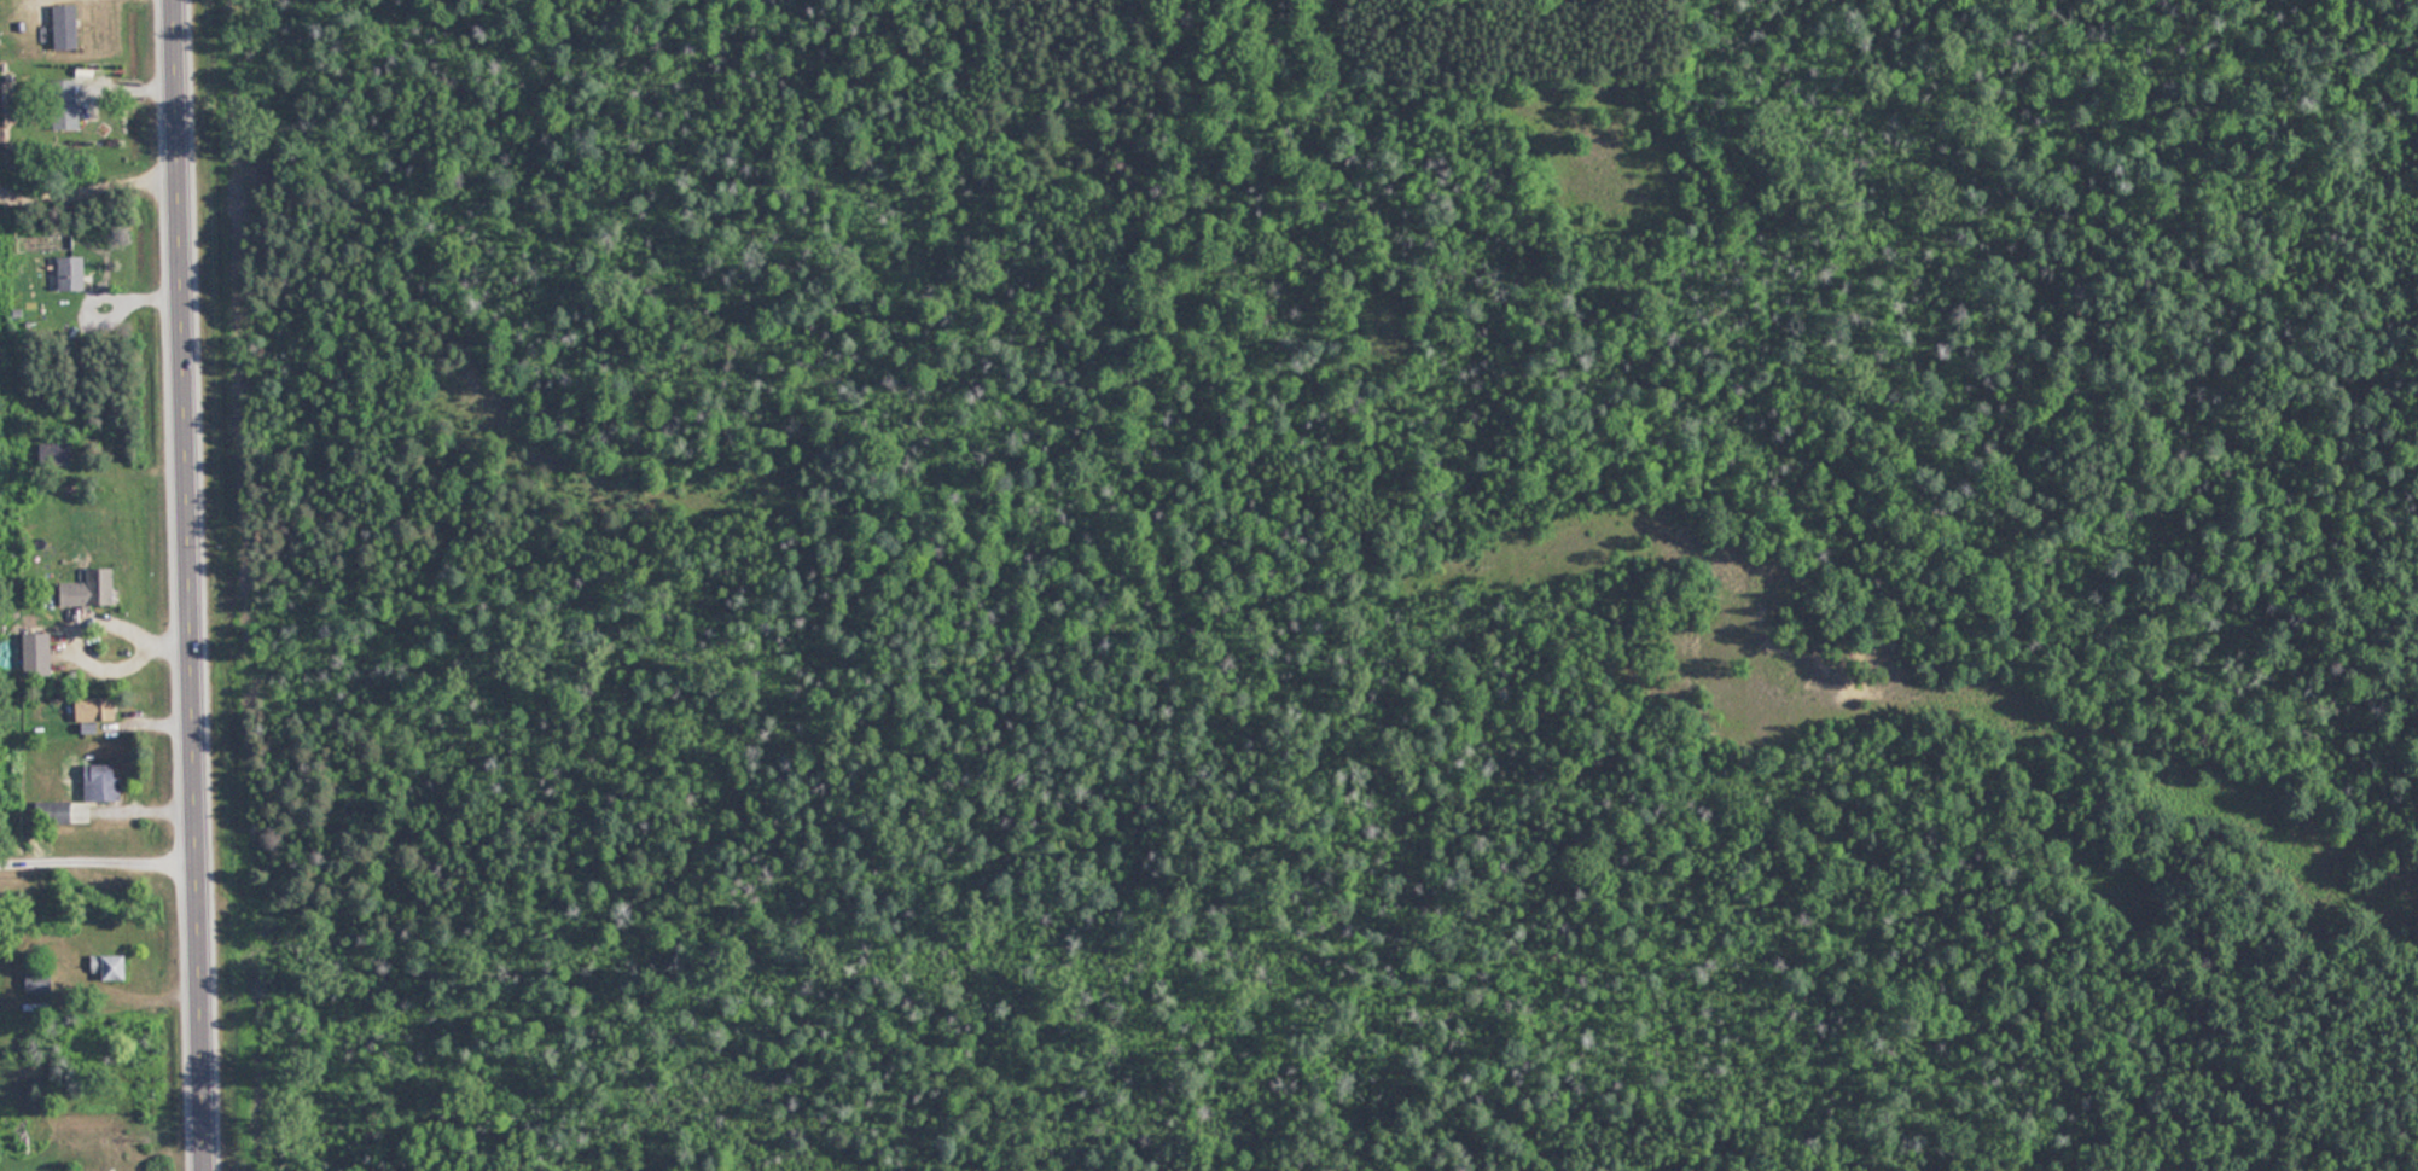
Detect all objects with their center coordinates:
building: (66, 27)
building: (66, 104)
road: (89, 175)
building: (71, 273)
road: (105, 295)
building: (52, 453)
park: (1302, 584)
road: (192, 585)
building: (91, 588)
building: (37, 653)
building: (95, 709)
building: (103, 781)
building: (54, 811)
road: (99, 847)
building: (109, 967)
building: (36, 981)

